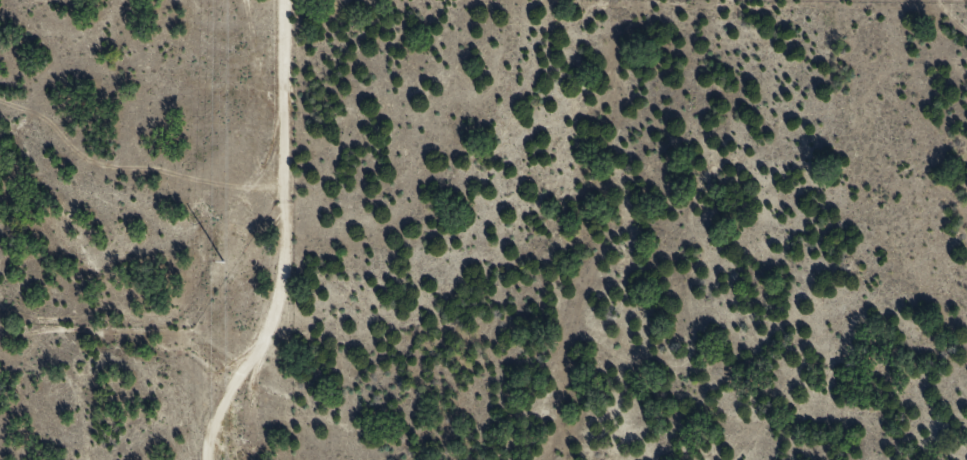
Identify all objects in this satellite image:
road: (956, 7)
road: (301, 237)
power tower: (223, 264)

